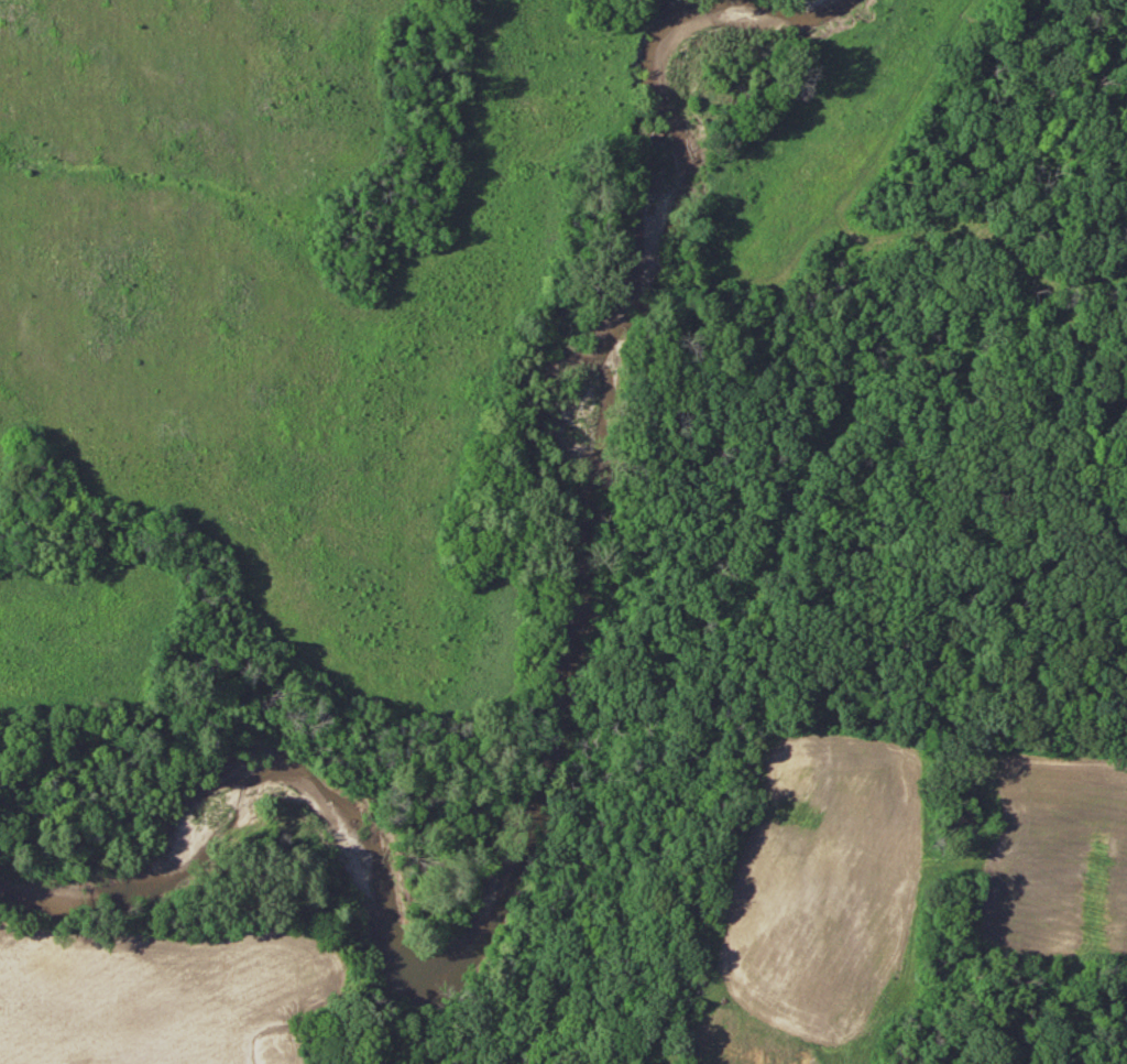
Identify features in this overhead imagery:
river: (557, 749)

